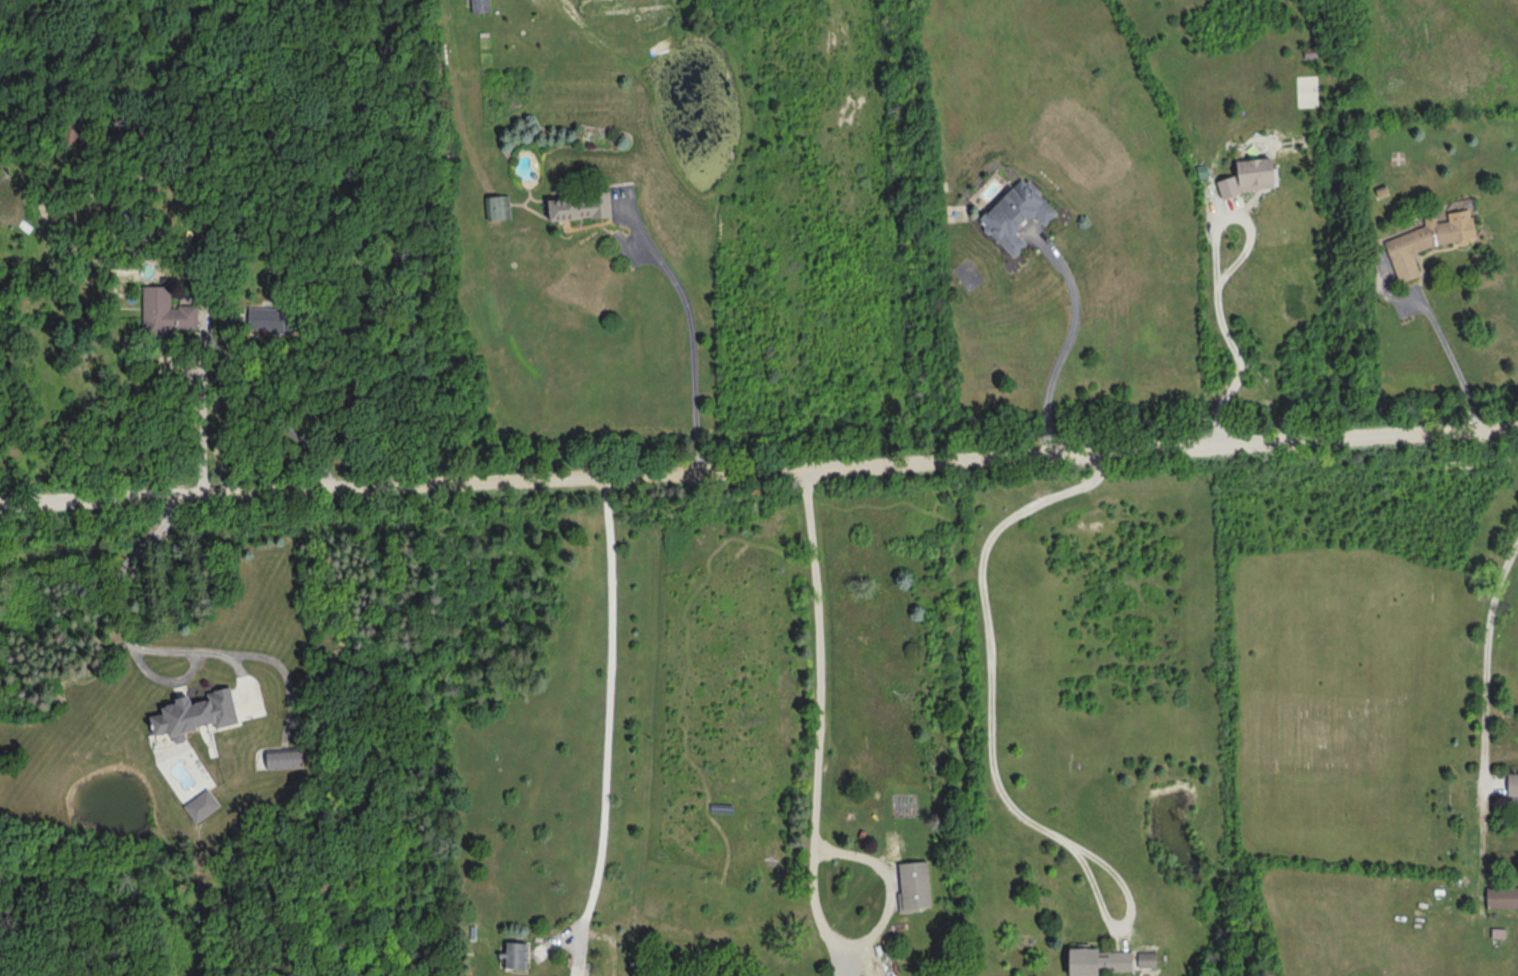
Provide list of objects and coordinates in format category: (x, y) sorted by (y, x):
building: (481, 6)
building: (1254, 178)
building: (501, 209)
building: (582, 209)
building: (1018, 216)
building: (1431, 242)
road: (1217, 287)
building: (167, 313)
building: (277, 319)
road: (1069, 338)
road: (692, 346)
road: (1450, 357)
road: (270, 413)
road: (204, 419)
road: (759, 471)
road: (164, 651)
road: (164, 679)
road: (242, 681)
building: (195, 713)
road: (1486, 719)
road: (608, 727)
road: (992, 742)
building: (285, 759)
road: (1495, 783)
building: (1514, 784)
road: (816, 803)
building: (203, 805)
building: (915, 886)
building: (1503, 897)
building: (1500, 934)
road: (1126, 938)
road: (559, 941)
building: (515, 954)
building: (884, 958)
building: (1148, 959)
building: (1099, 961)
building: (863, 971)

